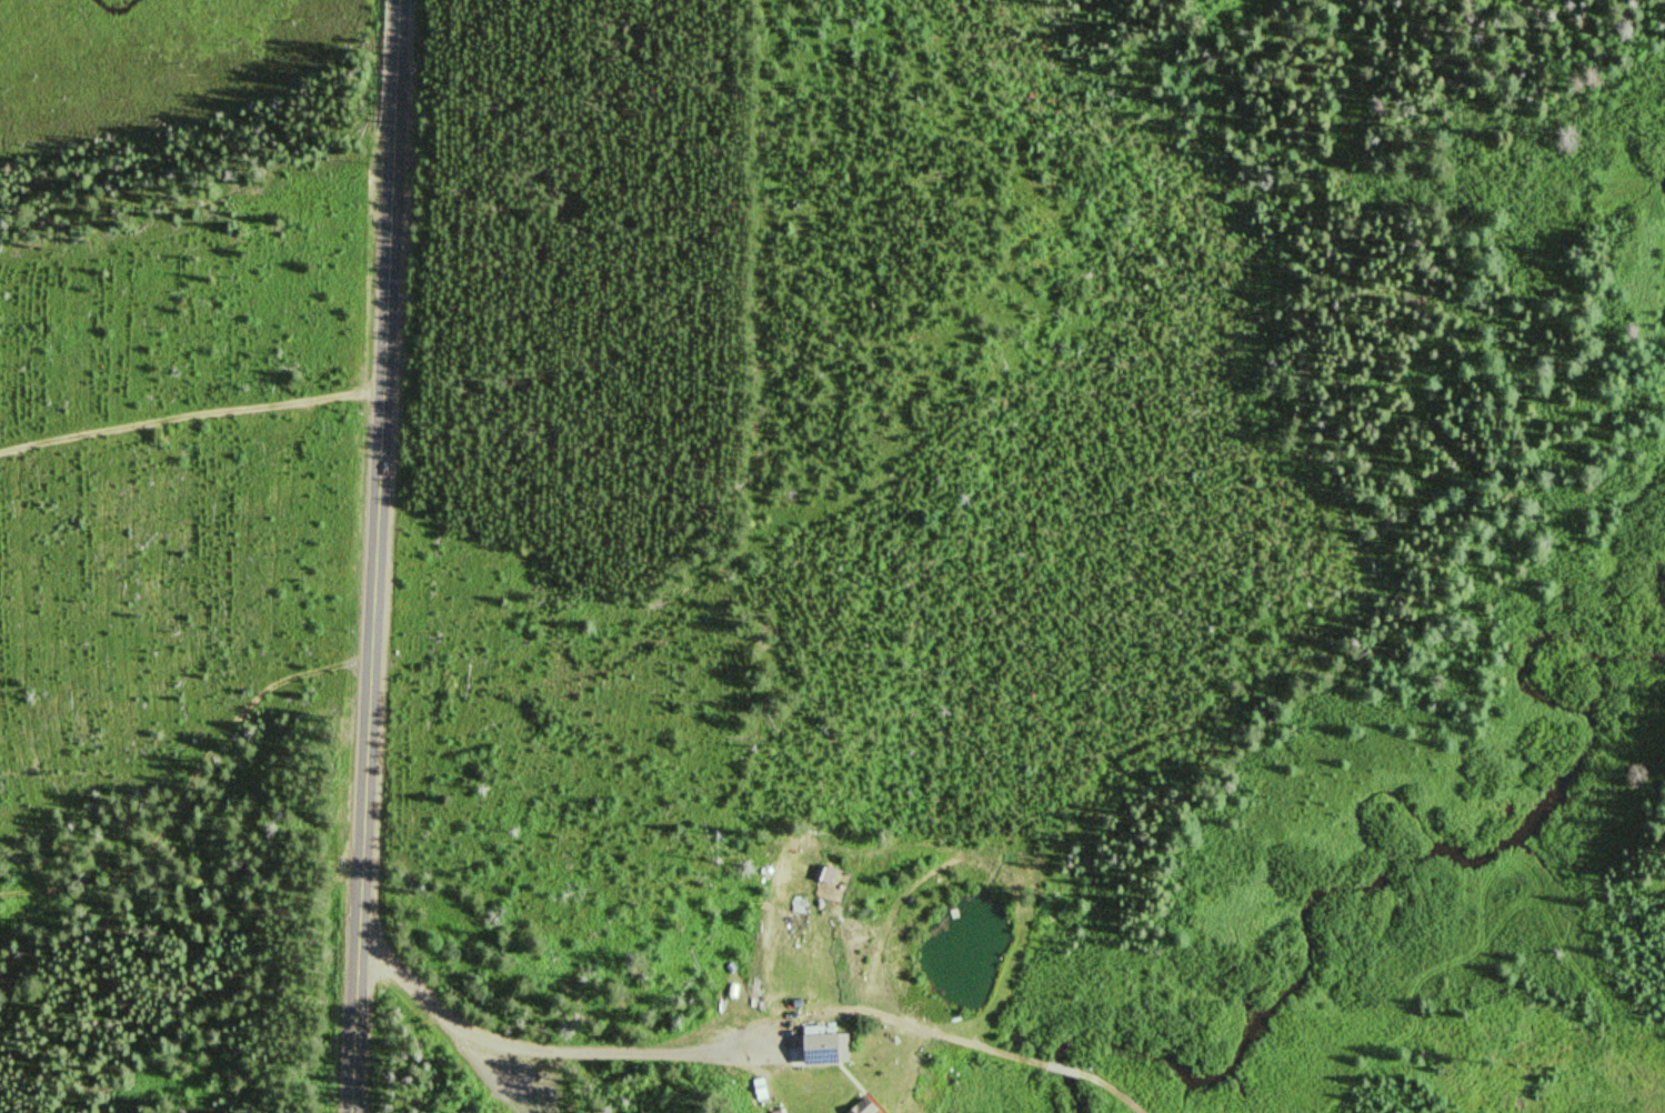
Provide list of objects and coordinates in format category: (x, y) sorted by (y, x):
road: (387, 201)
road: (188, 417)
road: (361, 758)
road: (179, 780)
river: (1402, 859)
building: (819, 876)
road: (538, 1041)
building: (816, 1051)
road: (1030, 1057)
building: (860, 1106)

